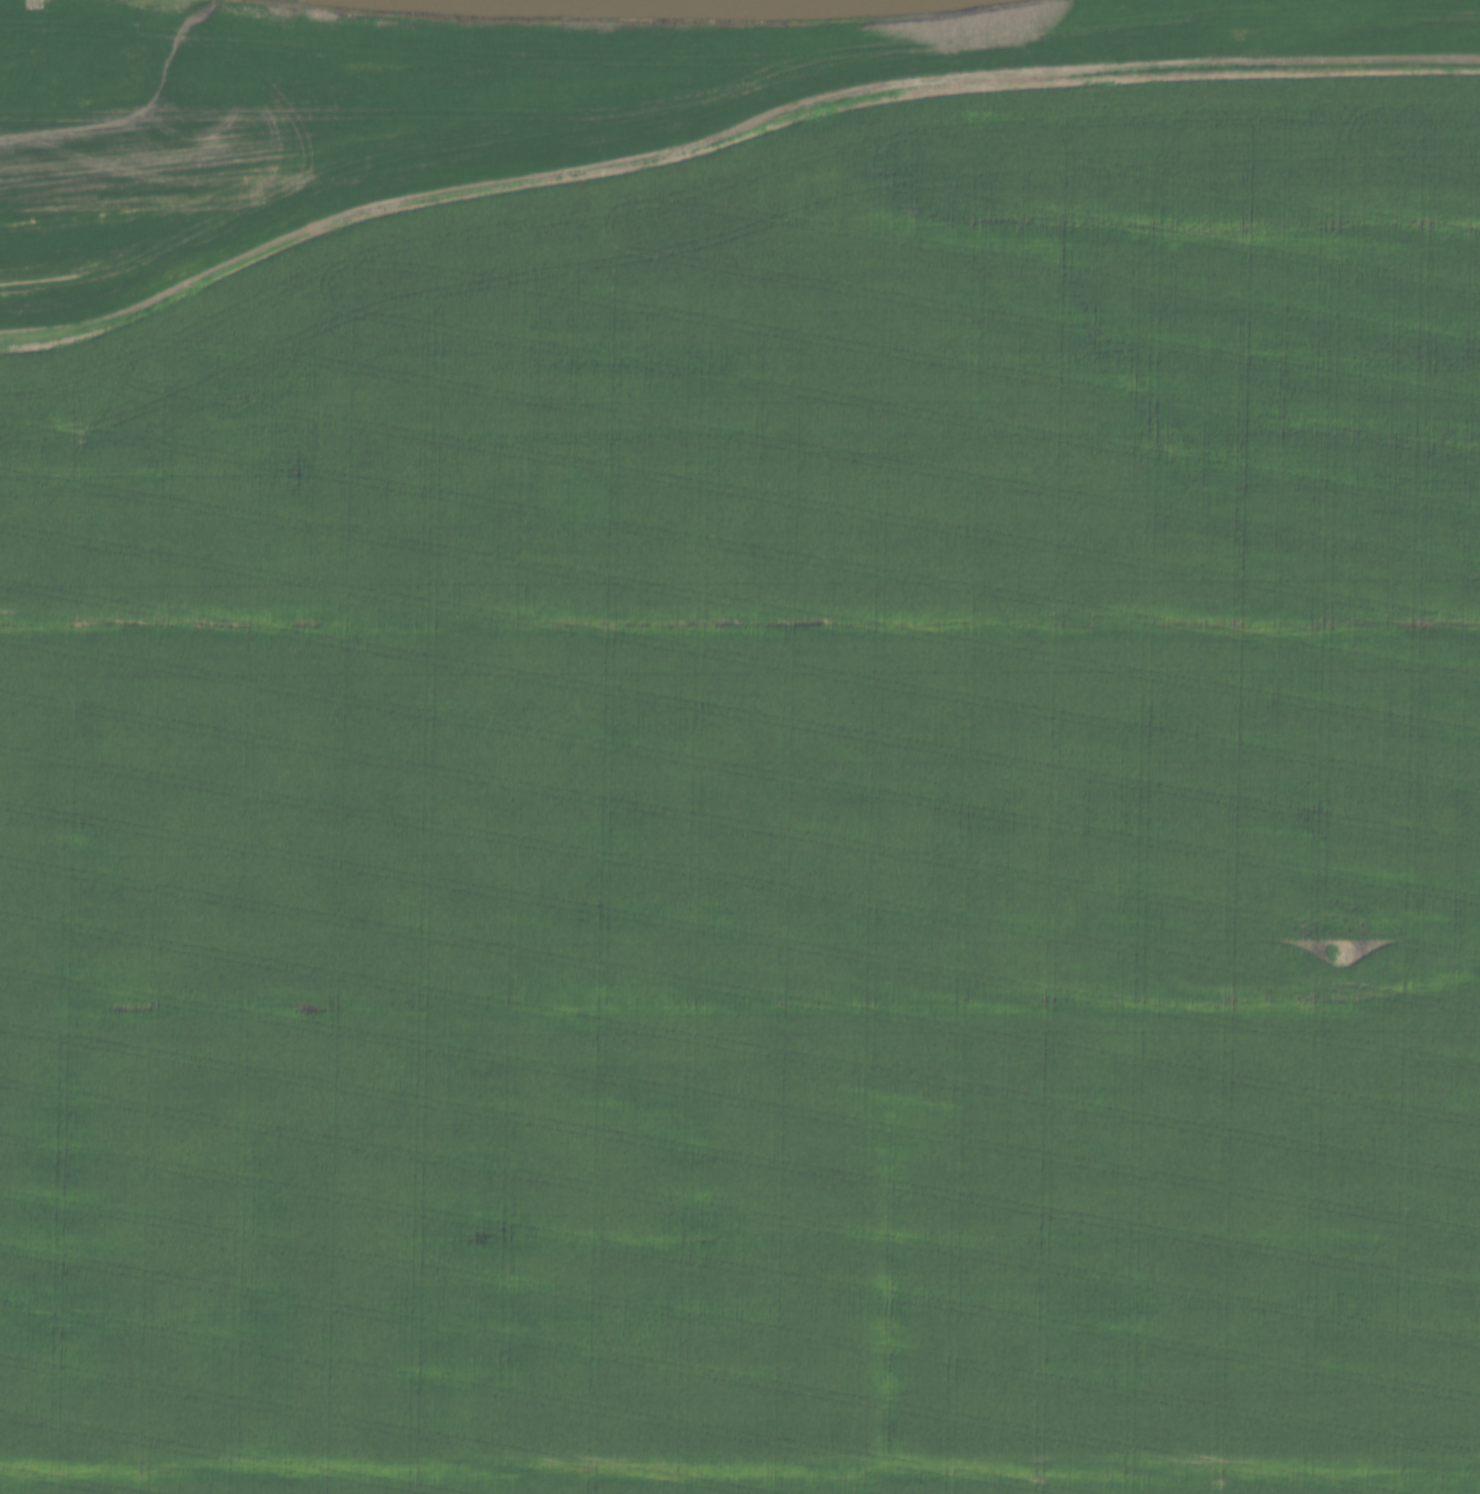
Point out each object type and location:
crop: (476, 108)
road: (728, 139)
crop: (766, 825)

